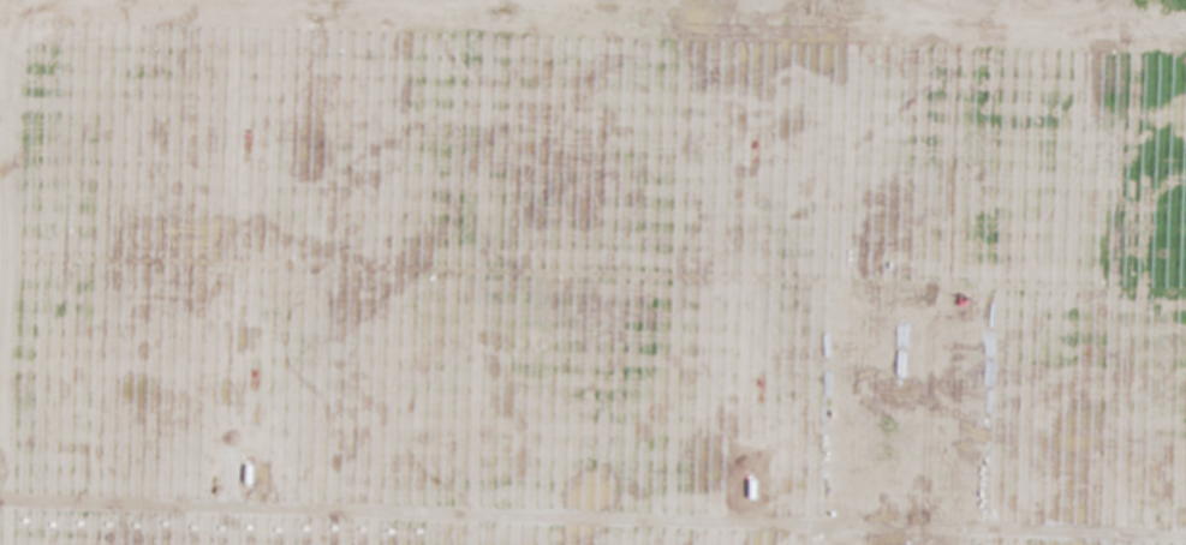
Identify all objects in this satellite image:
solar farm: (592, 272)

